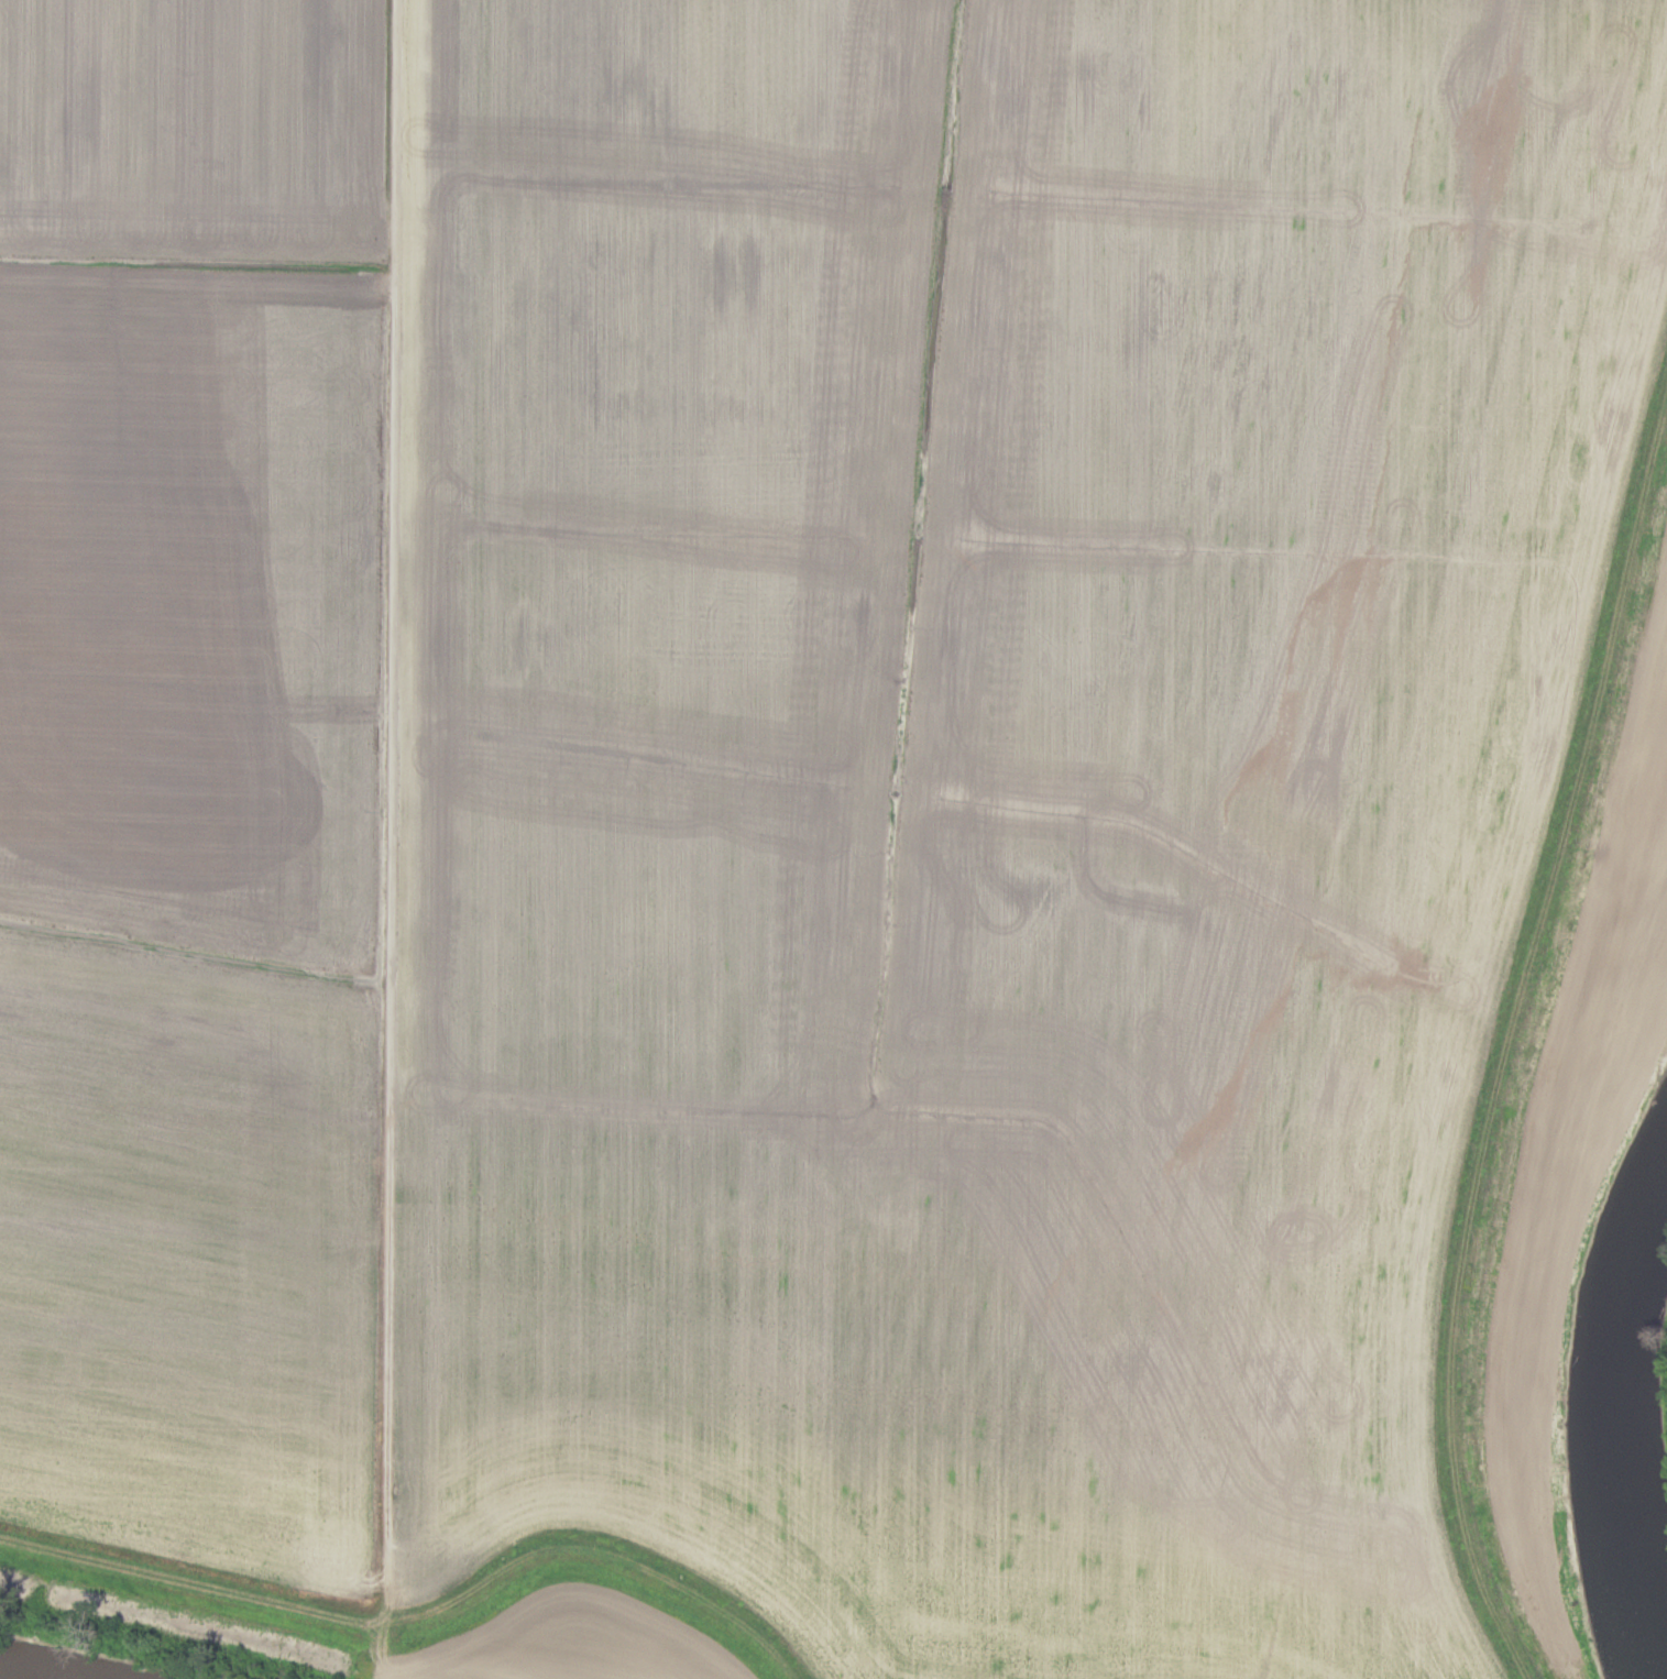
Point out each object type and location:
road: (382, 832)
river: (1621, 1420)

